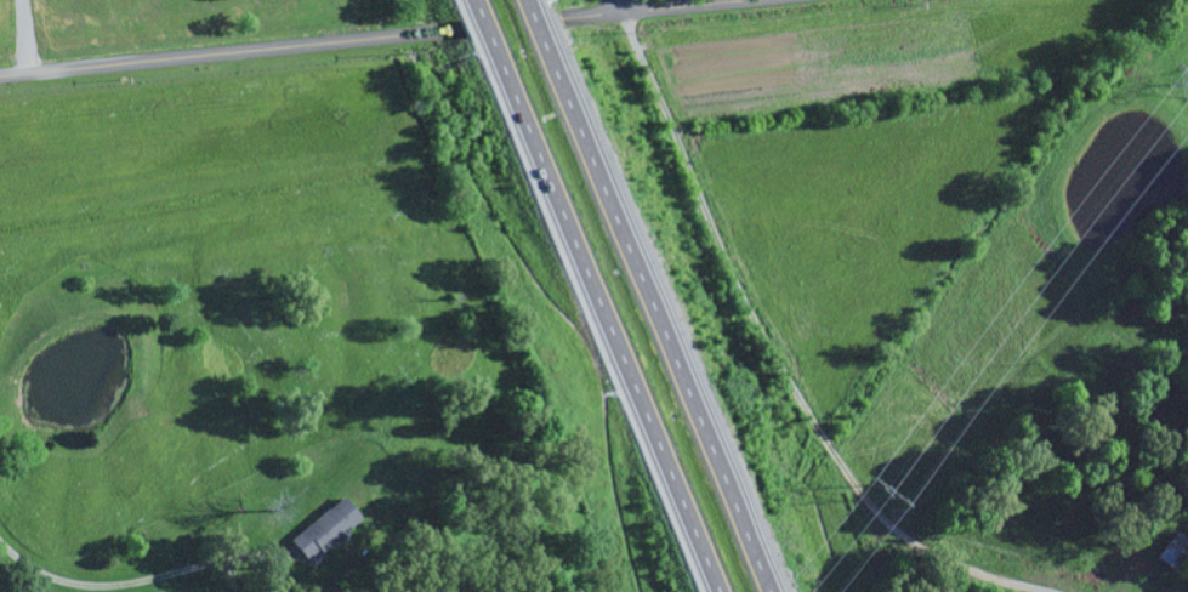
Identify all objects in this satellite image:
road: (623, 7)
road: (382, 39)
road: (546, 49)
road: (488, 50)
power tower: (1186, 85)
road: (669, 345)
road: (610, 346)
power tower: (892, 488)
building: (322, 530)

